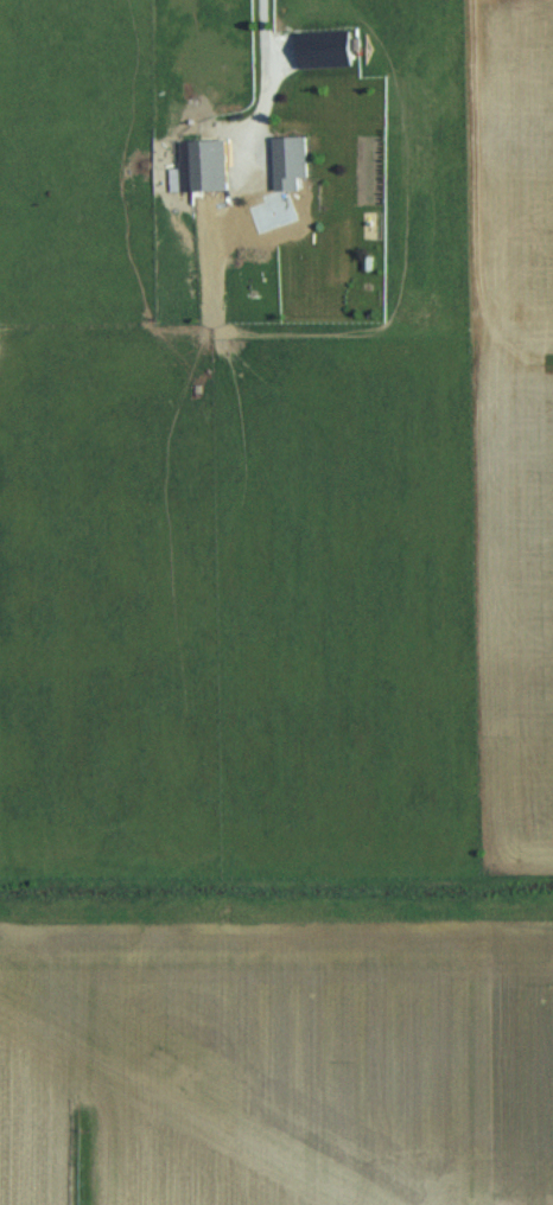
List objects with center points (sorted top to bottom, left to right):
road: (260, 38)
building: (290, 160)
building: (208, 164)
power tower: (184, 1075)

